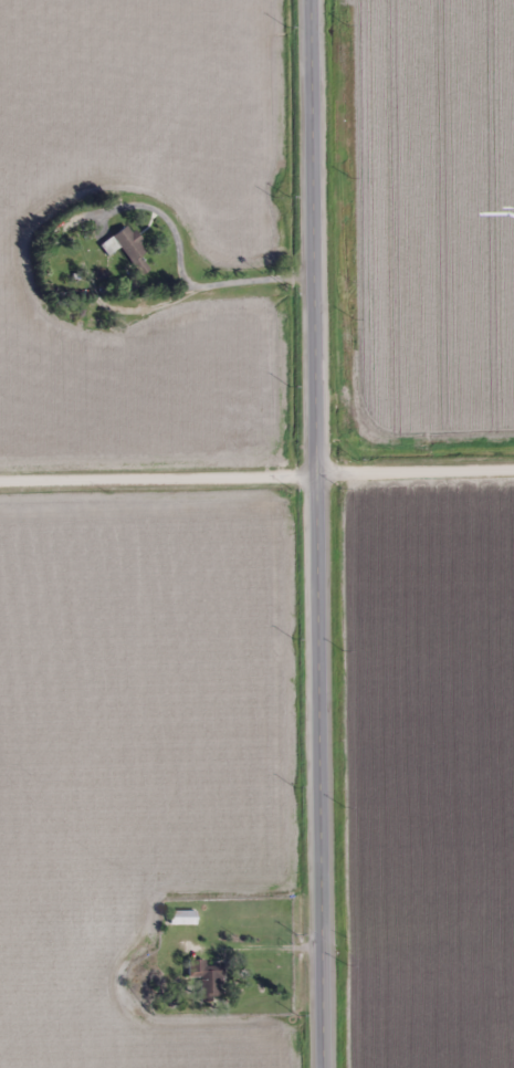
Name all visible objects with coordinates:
building: (124, 244)
road: (256, 471)
road: (315, 534)
building: (182, 918)
building: (207, 980)

